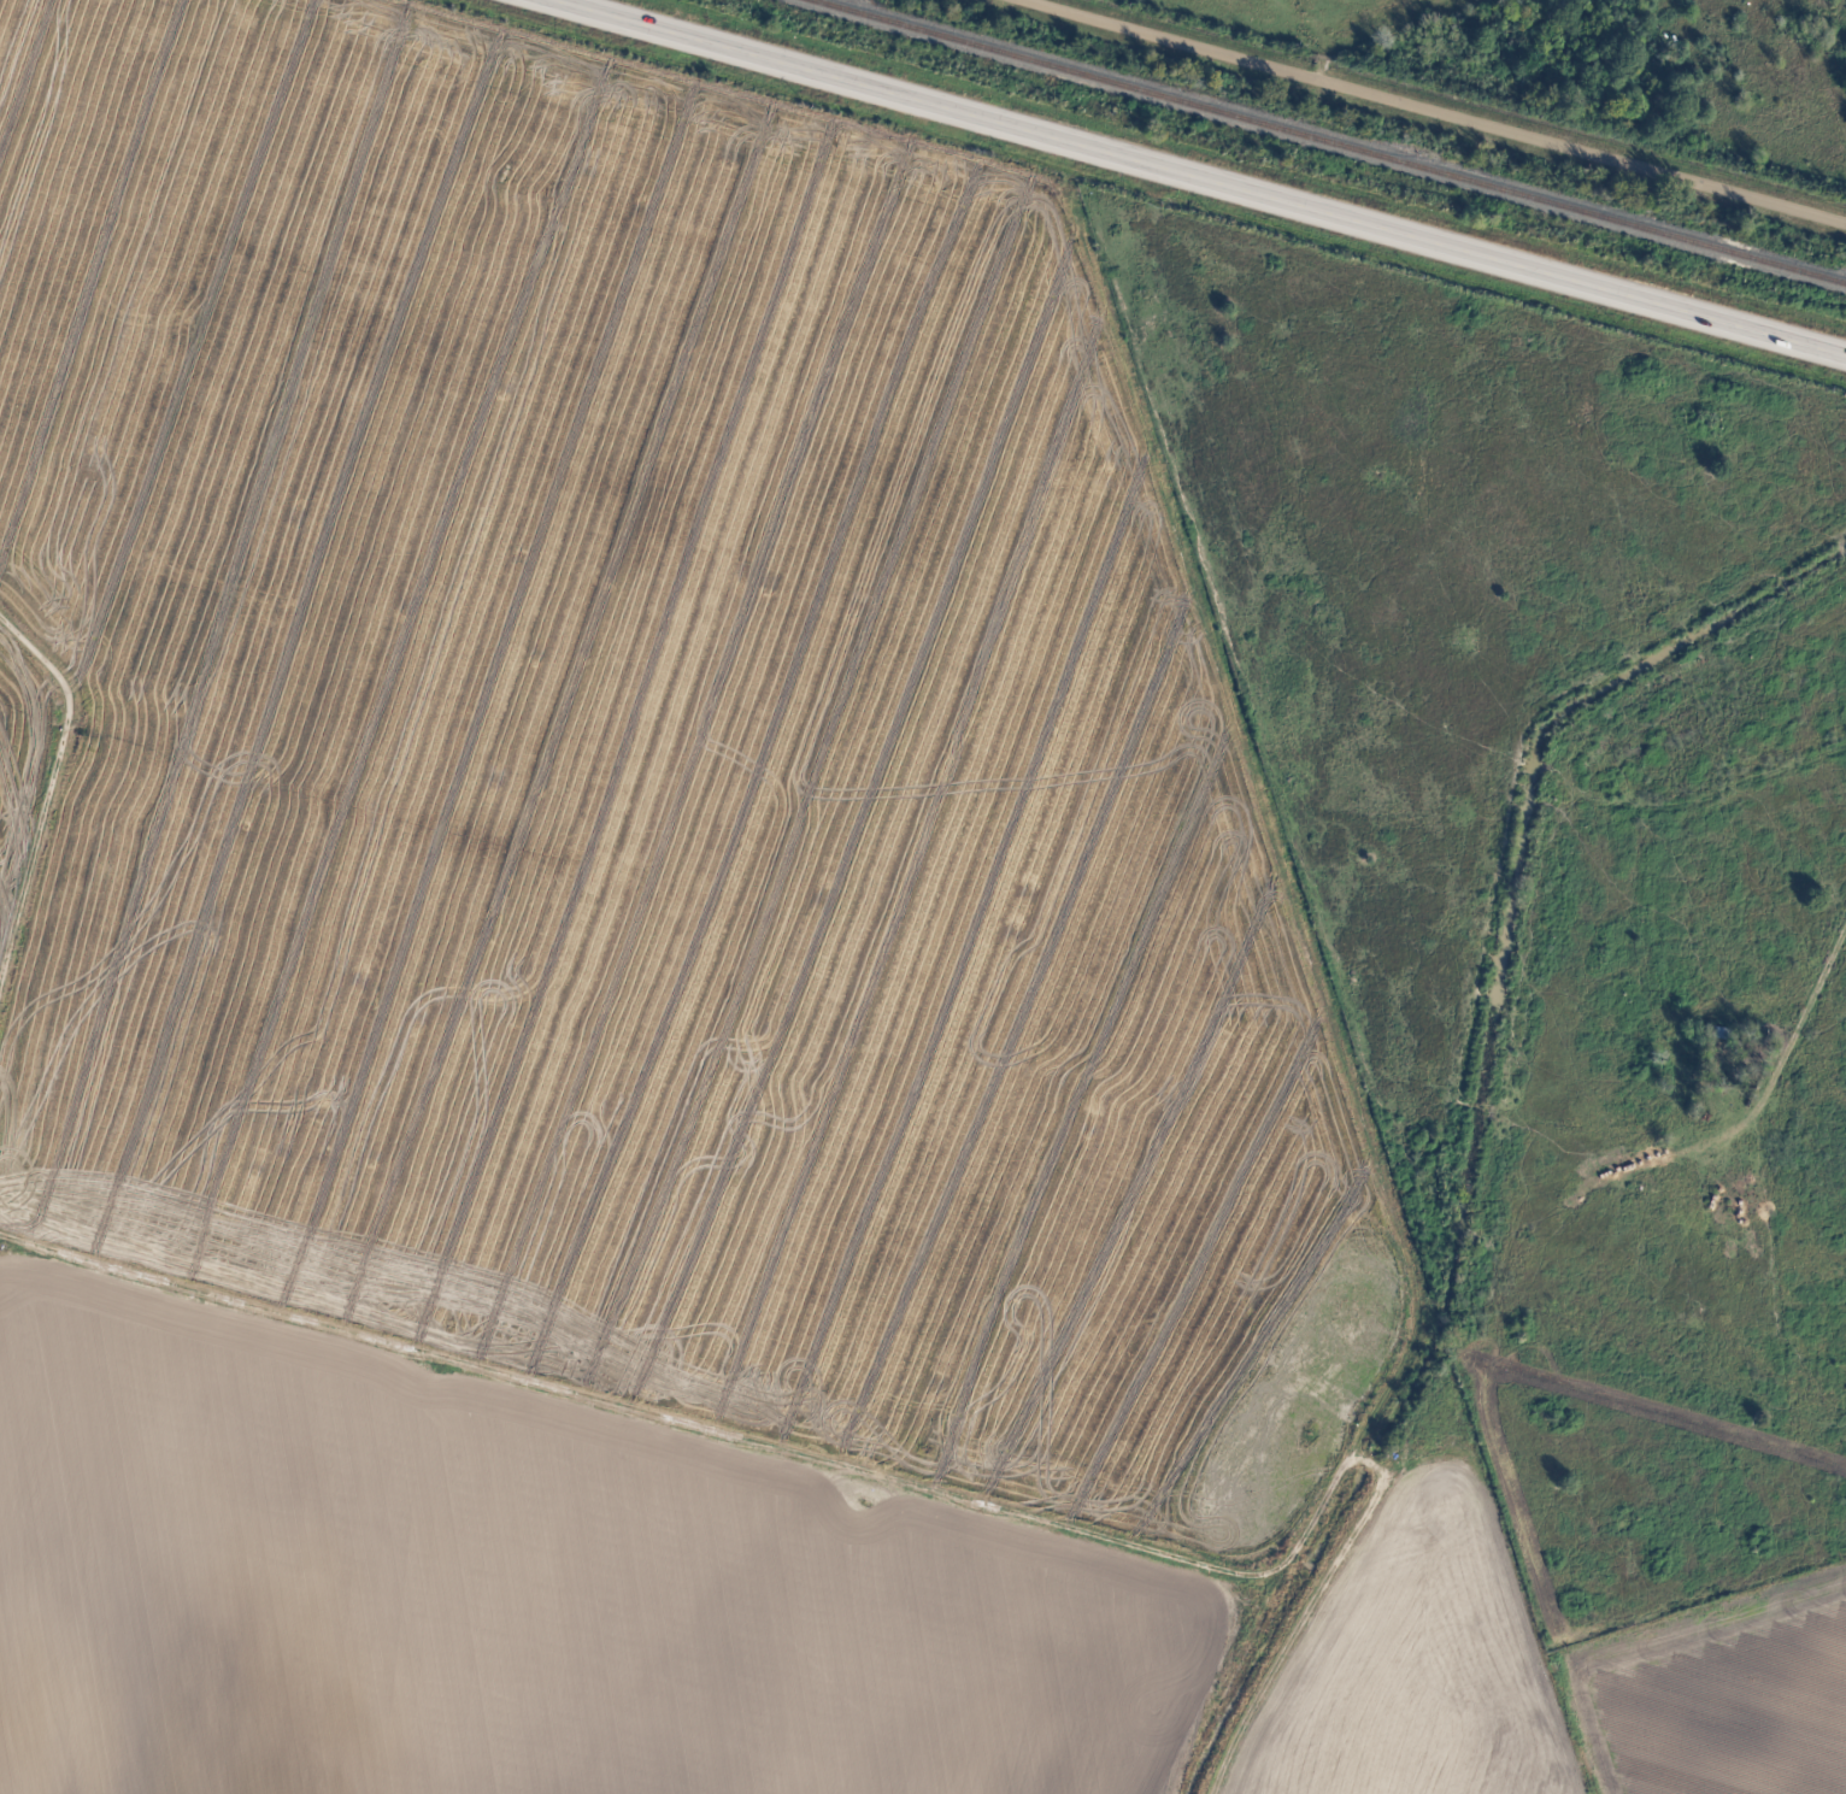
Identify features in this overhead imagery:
road: (1447, 110)
railway: (1327, 142)
road: (1199, 176)
road: (1734, 790)
road: (1785, 1076)

